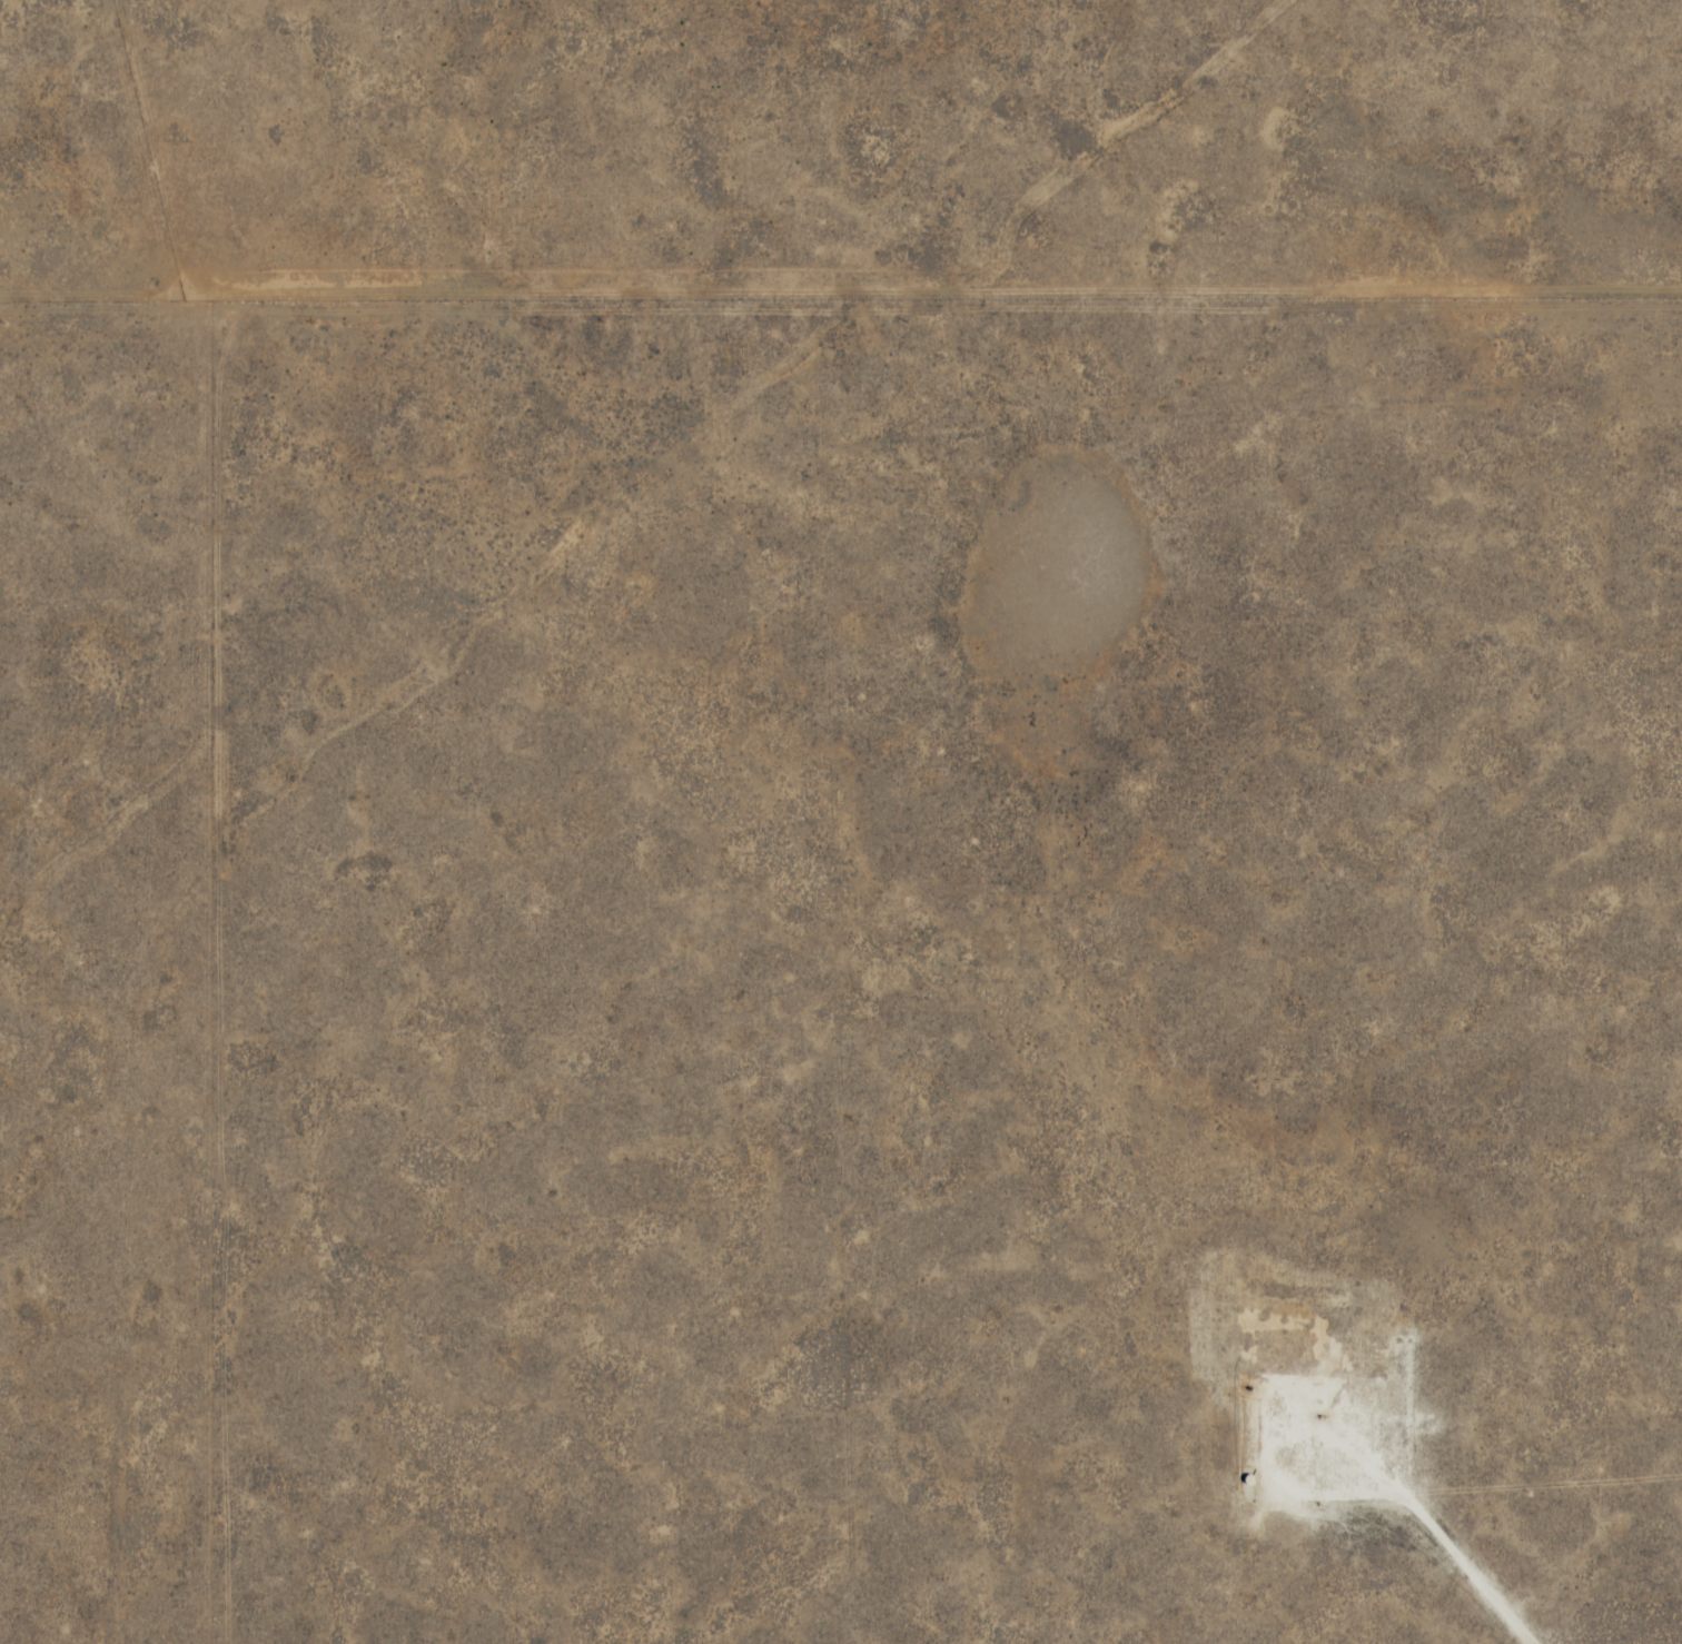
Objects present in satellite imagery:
road: (1426, 1529)

